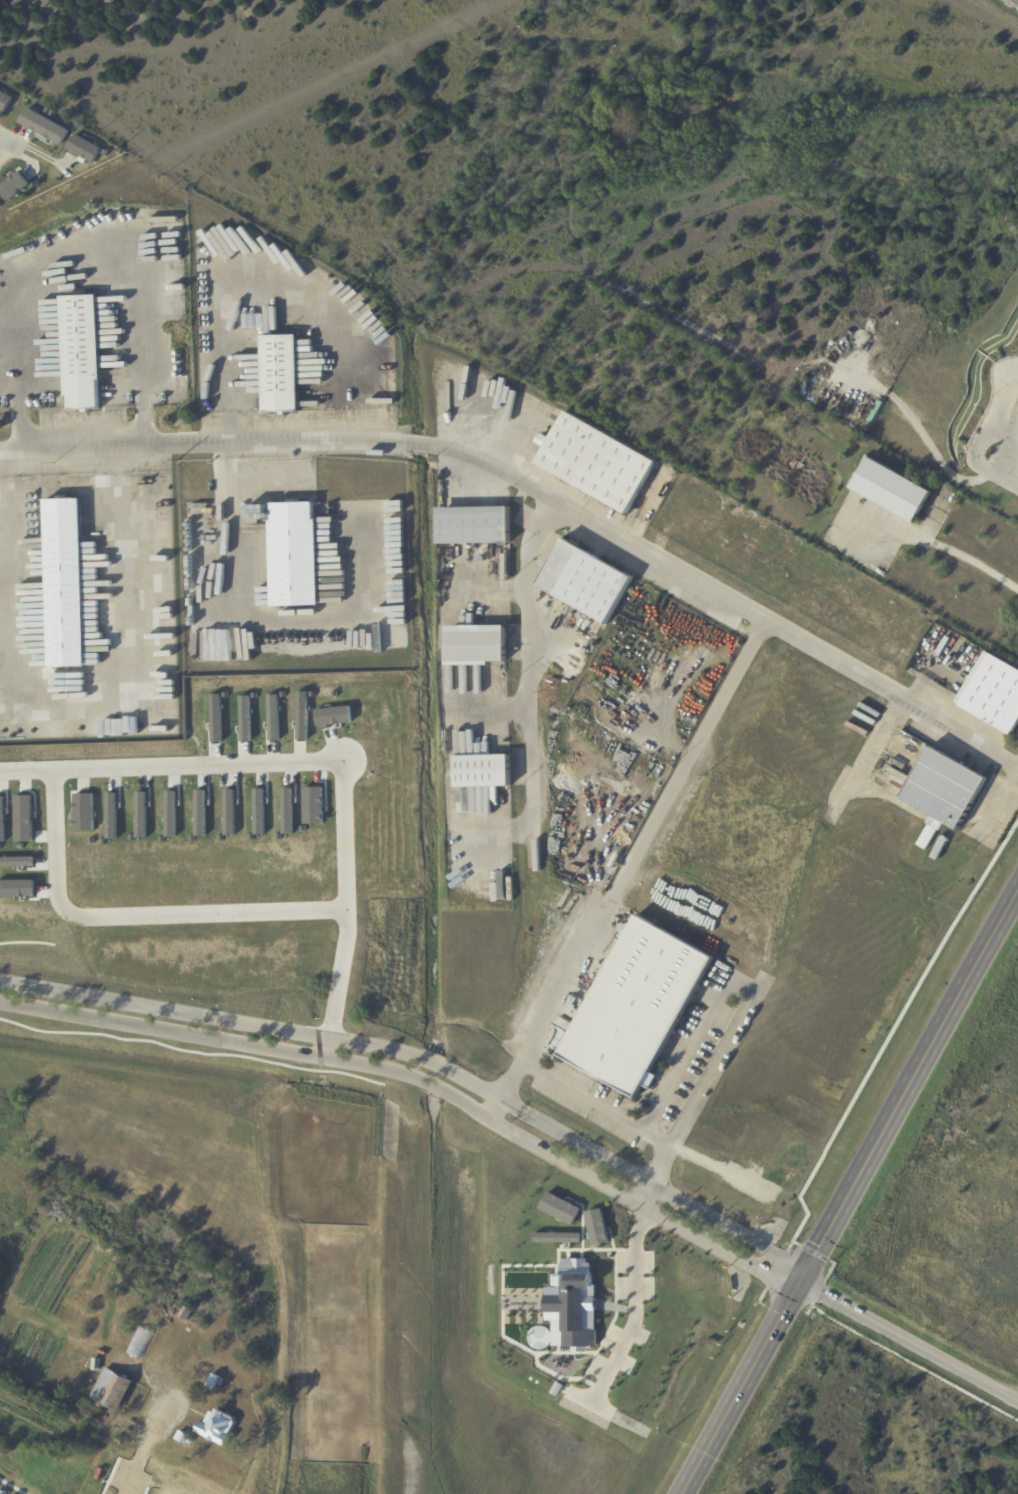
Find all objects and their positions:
building: (5, 100)
building: (47, 111)
building: (52, 114)
building: (45, 127)
building: (84, 147)
road: (34, 149)
road: (11, 152)
building: (12, 183)
building: (83, 346)
building: (280, 374)
road: (18, 399)
road: (1000, 404)
parking lot: (1005, 458)
building: (596, 462)
road: (11, 463)
road: (114, 466)
building: (799, 467)
road: (1, 482)
building: (893, 491)
building: (474, 526)
road: (947, 551)
building: (295, 554)
building: (586, 581)
building: (64, 583)
road: (729, 600)
road: (269, 618)
building: (475, 646)
building: (993, 694)
road: (95, 697)
building: (858, 729)
road: (880, 739)
road: (327, 765)
building: (484, 771)
building: (944, 789)
road: (530, 806)
building: (940, 847)
road: (634, 860)
road: (146, 921)
building: (637, 1006)
road: (692, 1046)
road: (337, 1060)
road: (426, 1061)
road: (909, 1080)
road: (702, 1088)
road: (597, 1104)
building: (801, 1104)
building: (790, 1121)
building: (787, 1161)
road: (648, 1194)
road: (721, 1247)
road: (635, 1306)
building: (185, 1313)
building: (141, 1333)
road: (909, 1338)
building: (95, 1364)
building: (213, 1383)
road: (741, 1387)
building: (112, 1389)
building: (217, 1427)
building: (117, 1435)
building: (183, 1437)
building: (112, 1445)
road: (134, 1468)

